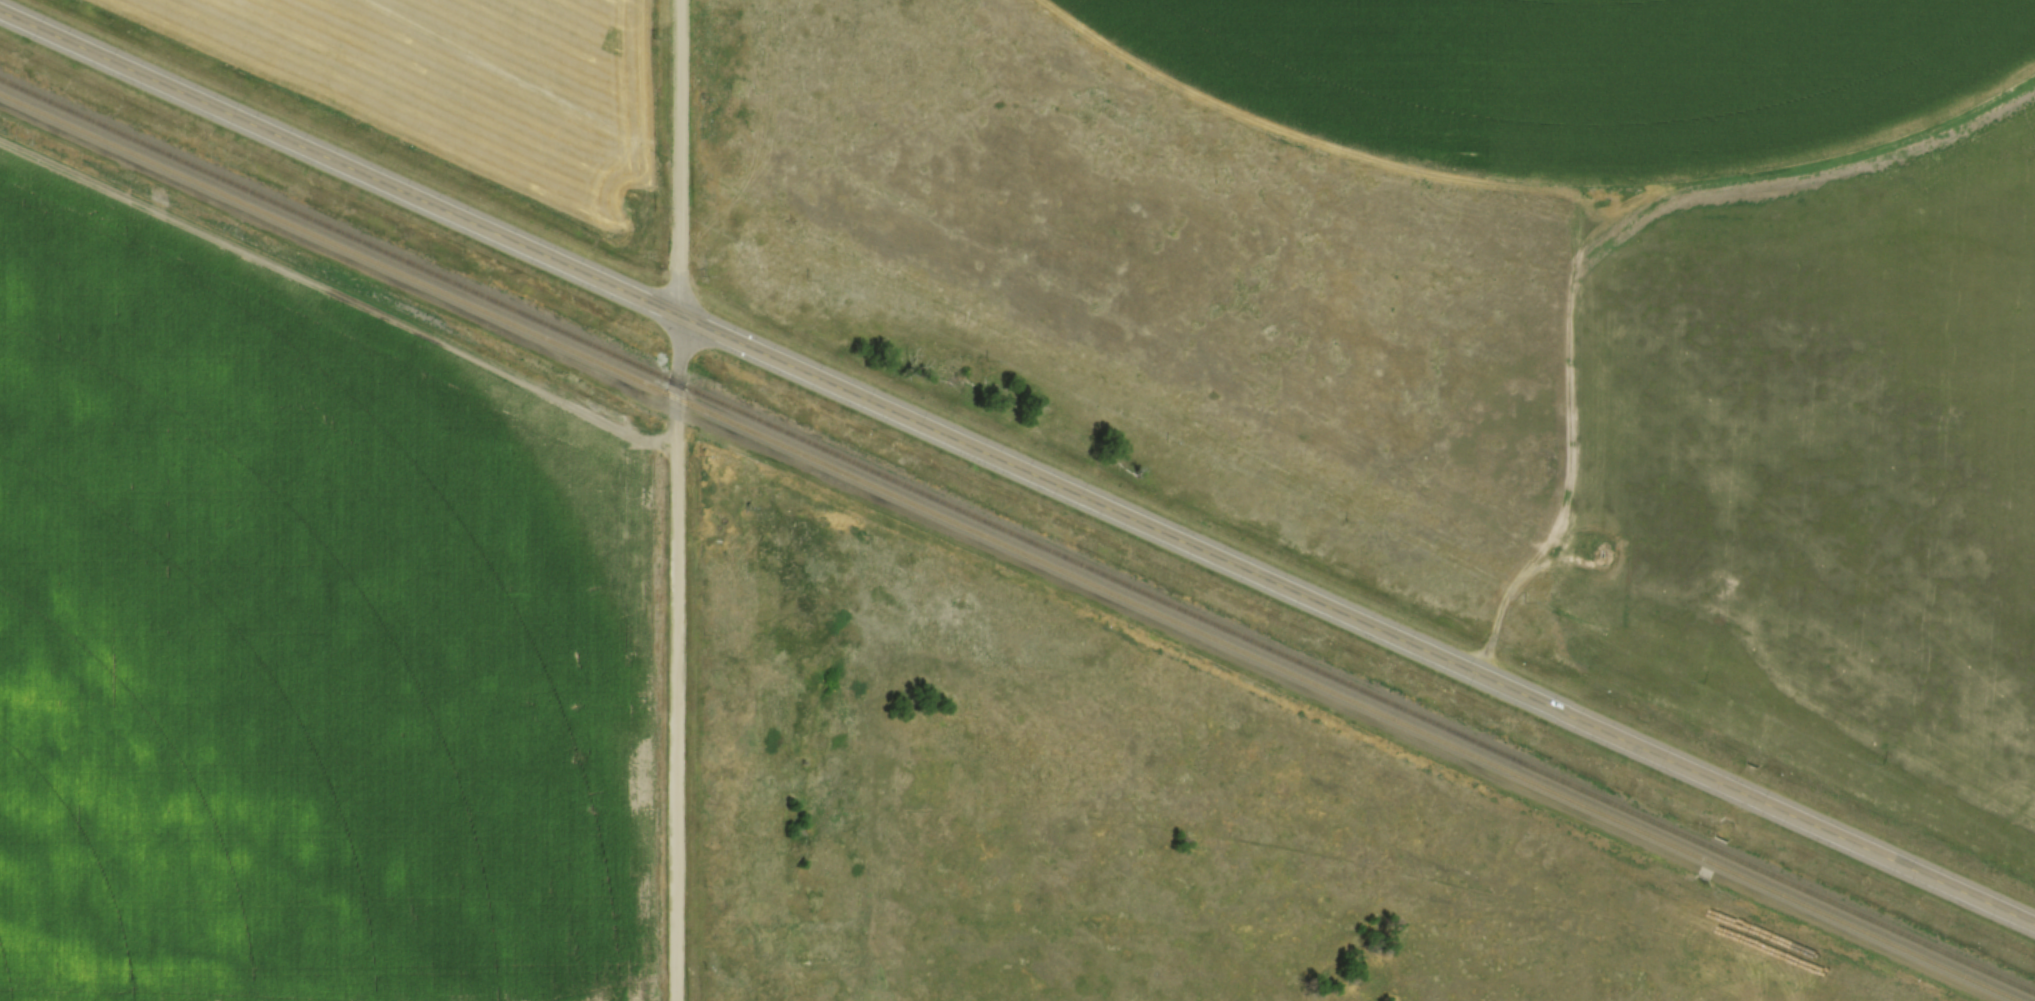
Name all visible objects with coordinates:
road: (1017, 464)
road: (681, 500)
railway: (1017, 534)
railway: (1012, 546)

